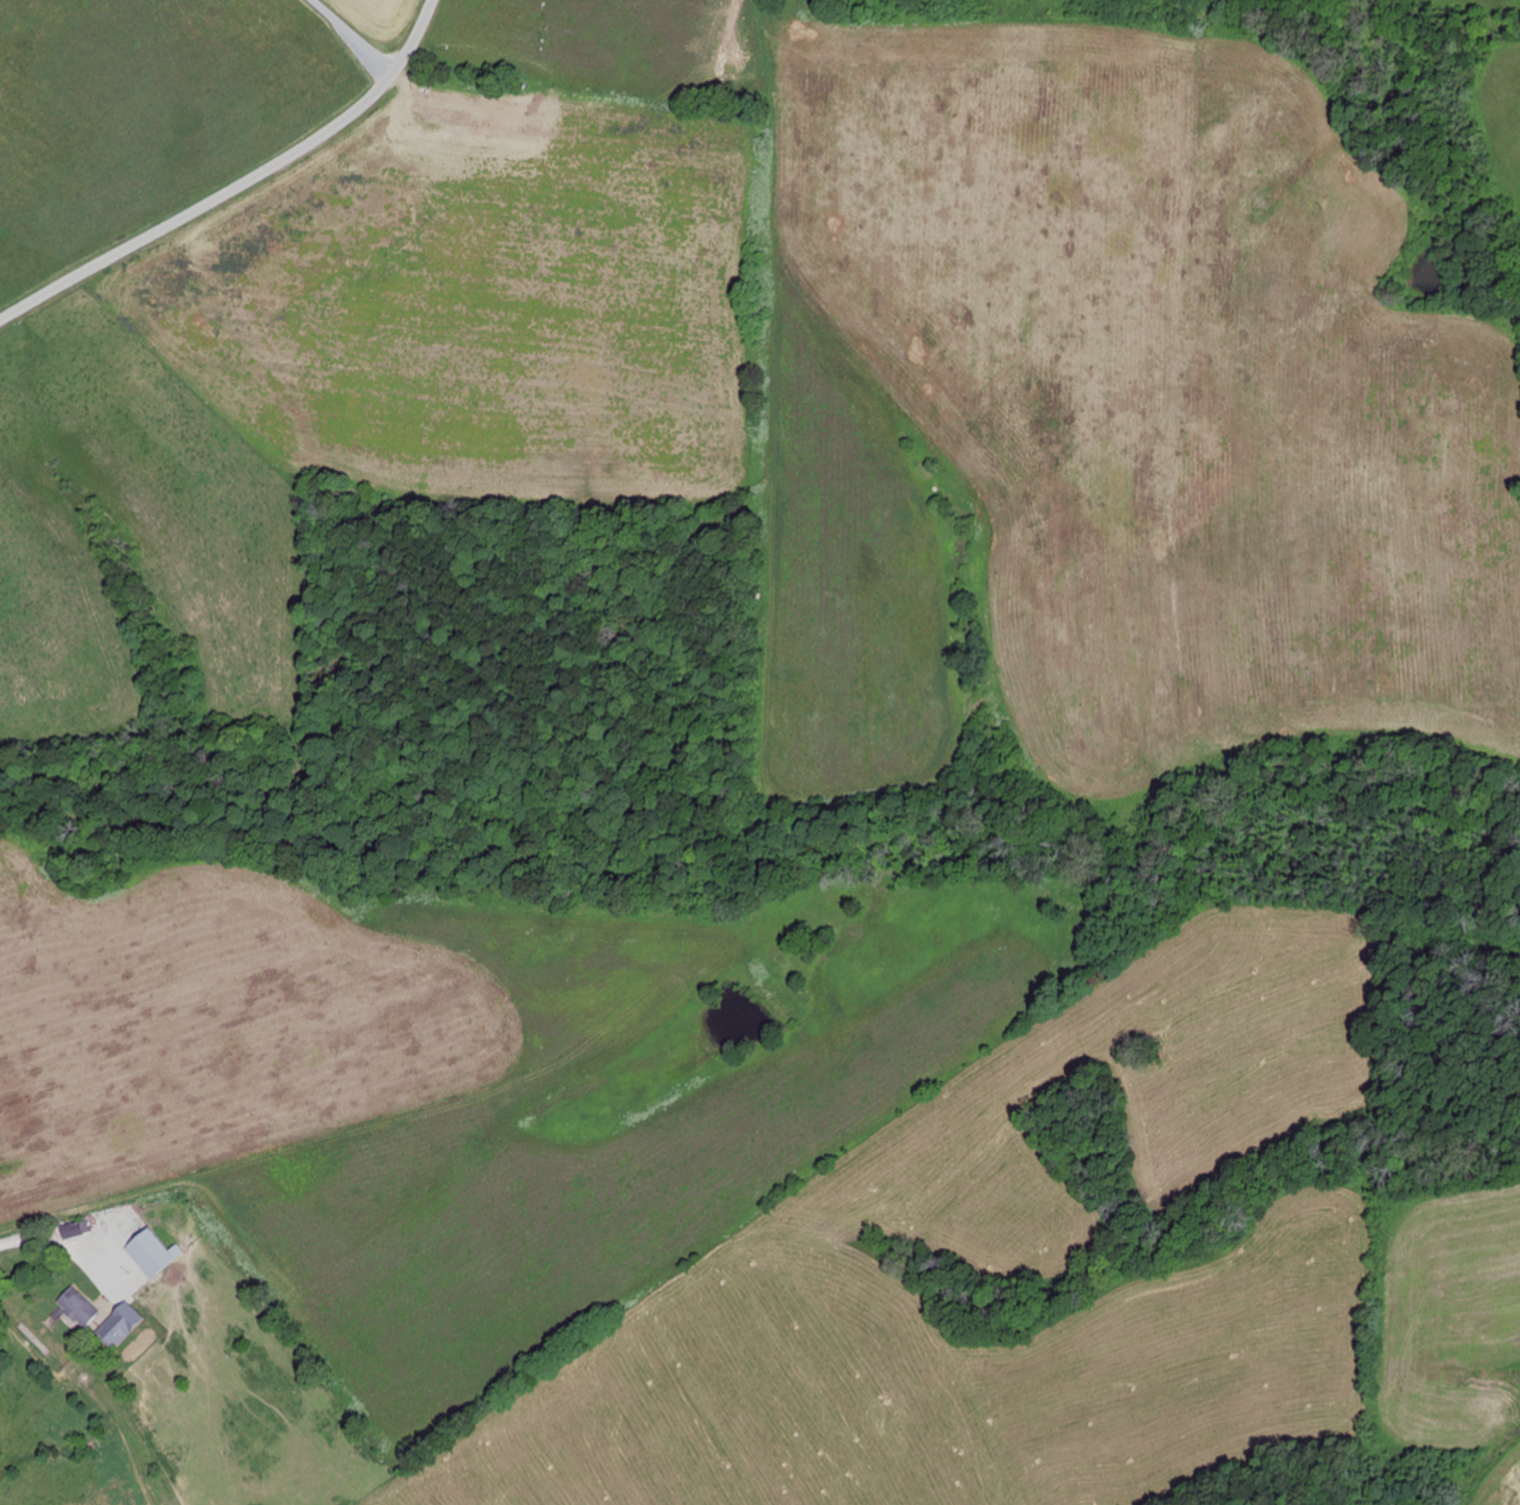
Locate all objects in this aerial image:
road: (718, 10)
road: (223, 72)
road: (240, 185)
building: (74, 1231)
building: (81, 1308)
building: (164, 1375)

